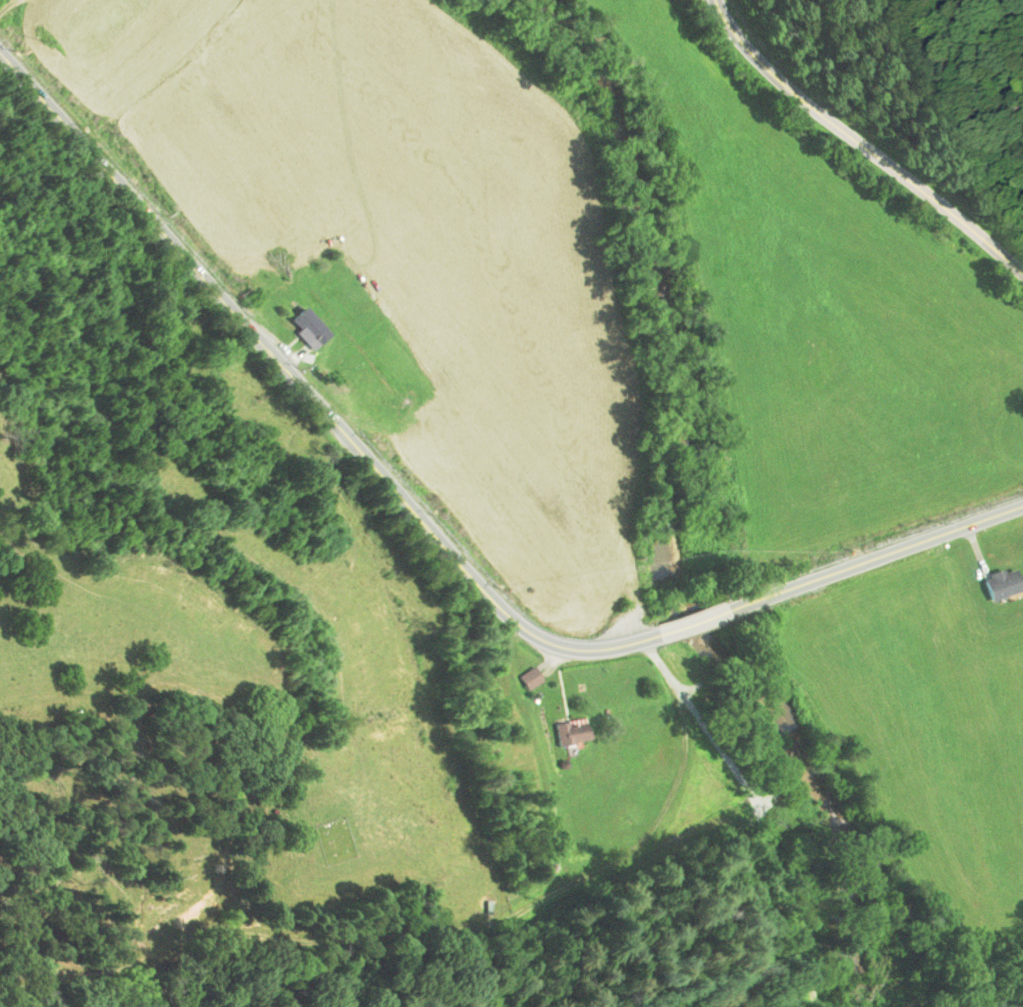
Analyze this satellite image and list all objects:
road: (868, 141)
crop: (385, 249)
crop: (829, 310)
building: (306, 328)
road: (304, 388)
river: (663, 511)
road: (871, 553)
building: (1002, 583)
road: (684, 617)
building: (573, 731)

